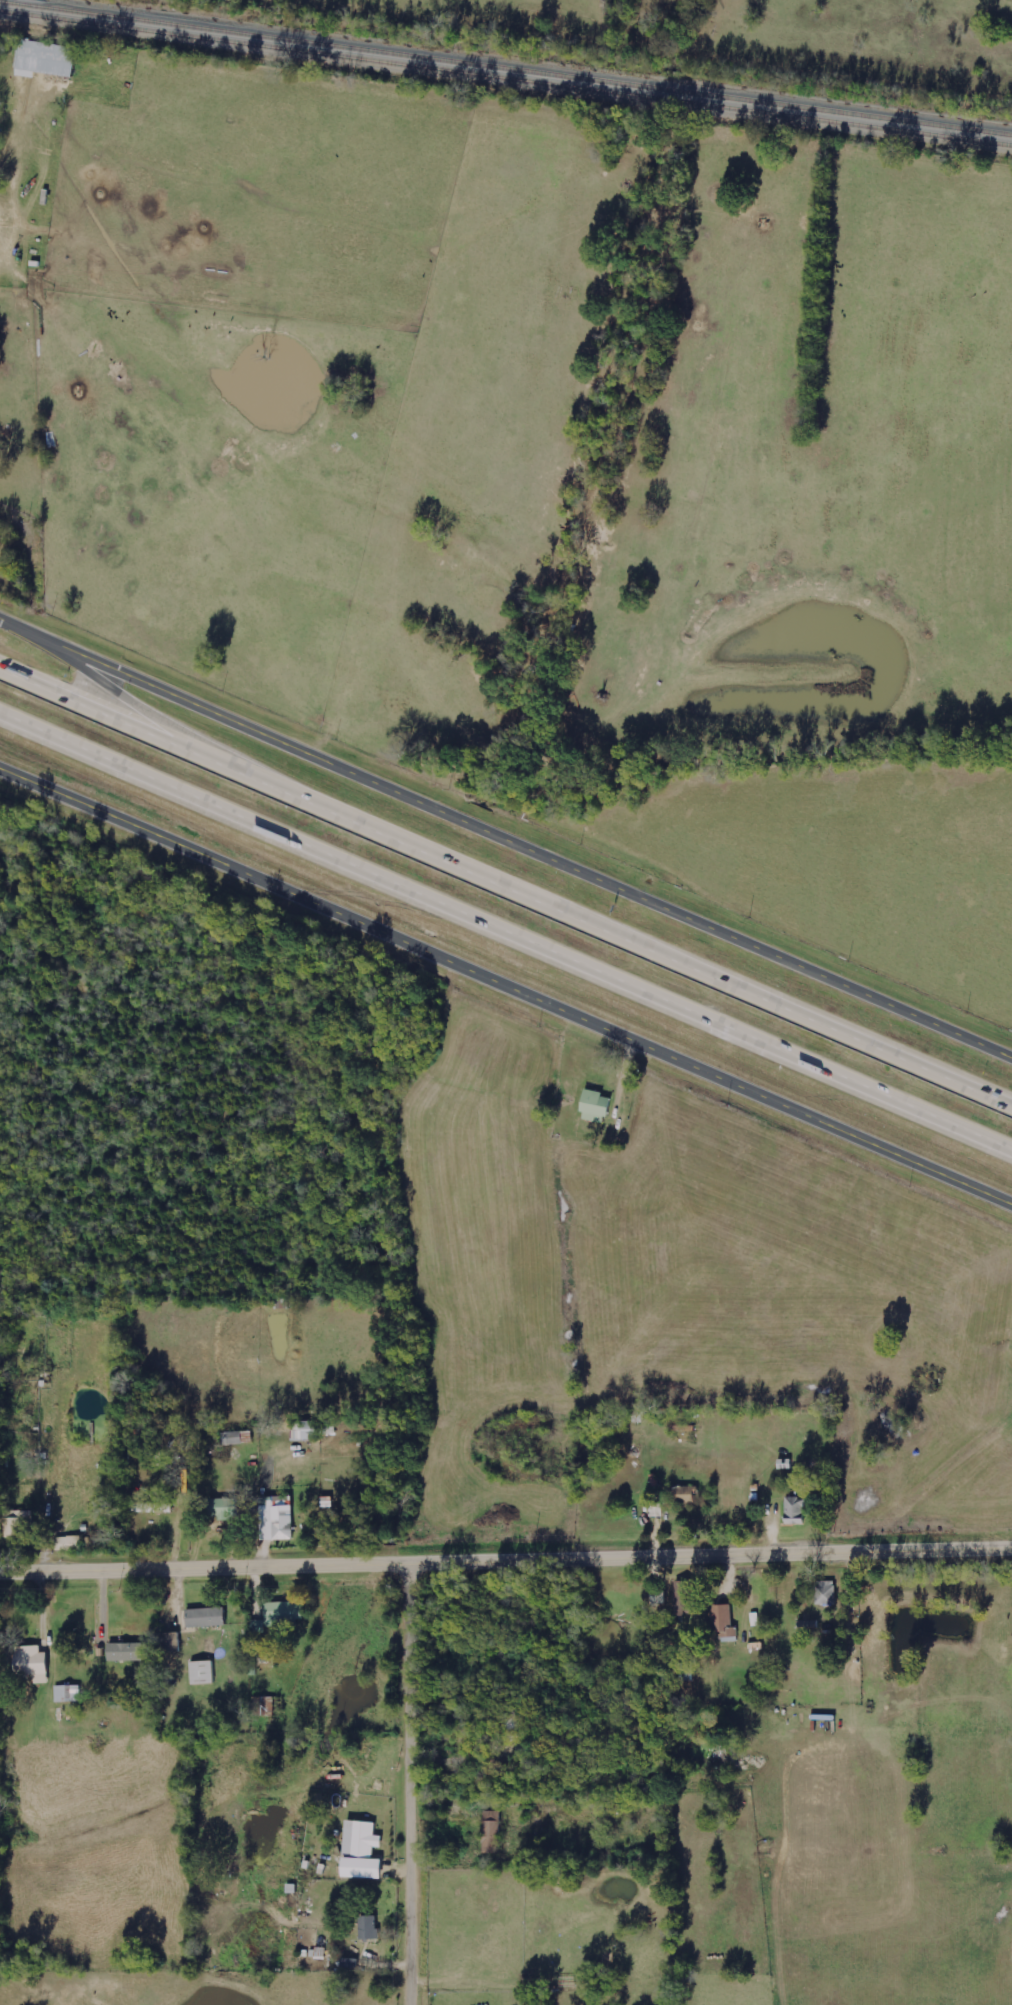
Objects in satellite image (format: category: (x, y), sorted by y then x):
building: (47, 60)
railway: (505, 71)
railway: (505, 81)
road: (3, 619)
road: (147, 713)
road: (509, 839)
road: (507, 875)
road: (506, 923)
road: (506, 985)
building: (598, 1107)
building: (310, 1431)
building: (249, 1438)
building: (235, 1439)
building: (687, 1493)
building: (155, 1508)
building: (227, 1509)
building: (657, 1511)
building: (797, 1511)
building: (277, 1522)
building: (19, 1523)
building: (70, 1544)
road: (505, 1563)
building: (826, 1593)
building: (688, 1596)
building: (659, 1597)
building: (286, 1613)
building: (208, 1618)
building: (727, 1625)
building: (128, 1652)
building: (34, 1664)
building: (204, 1673)
building: (69, 1694)
building: (263, 1707)
road: (416, 1784)
building: (493, 1832)
building: (364, 1852)
building: (370, 1928)

